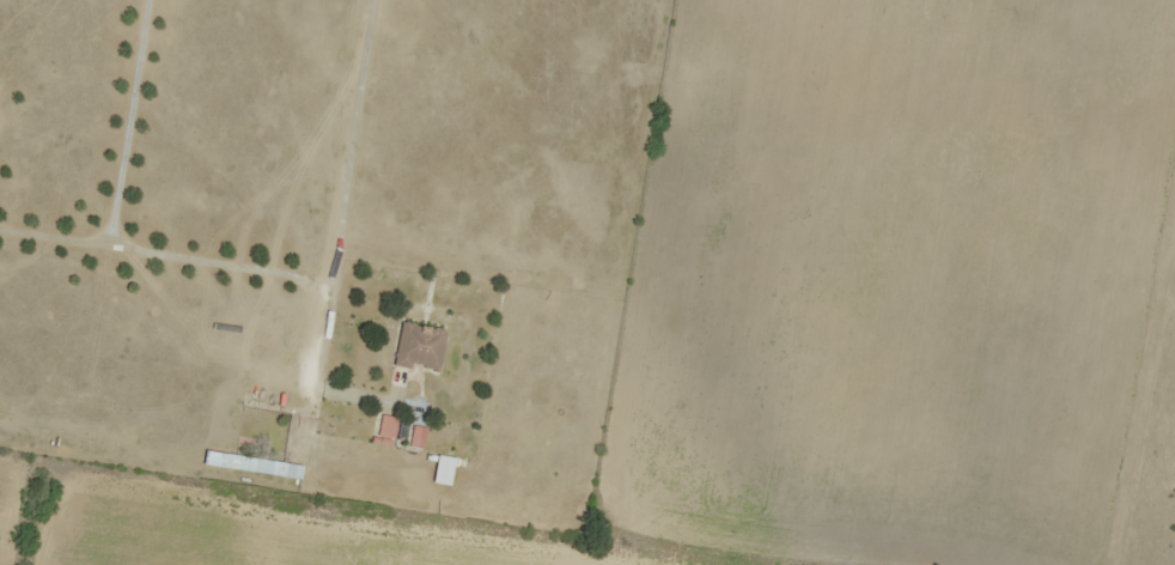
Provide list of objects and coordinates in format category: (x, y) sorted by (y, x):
road: (109, 168)
road: (333, 232)
road: (212, 257)
building: (418, 346)
building: (385, 426)
building: (251, 462)
road: (139, 466)

